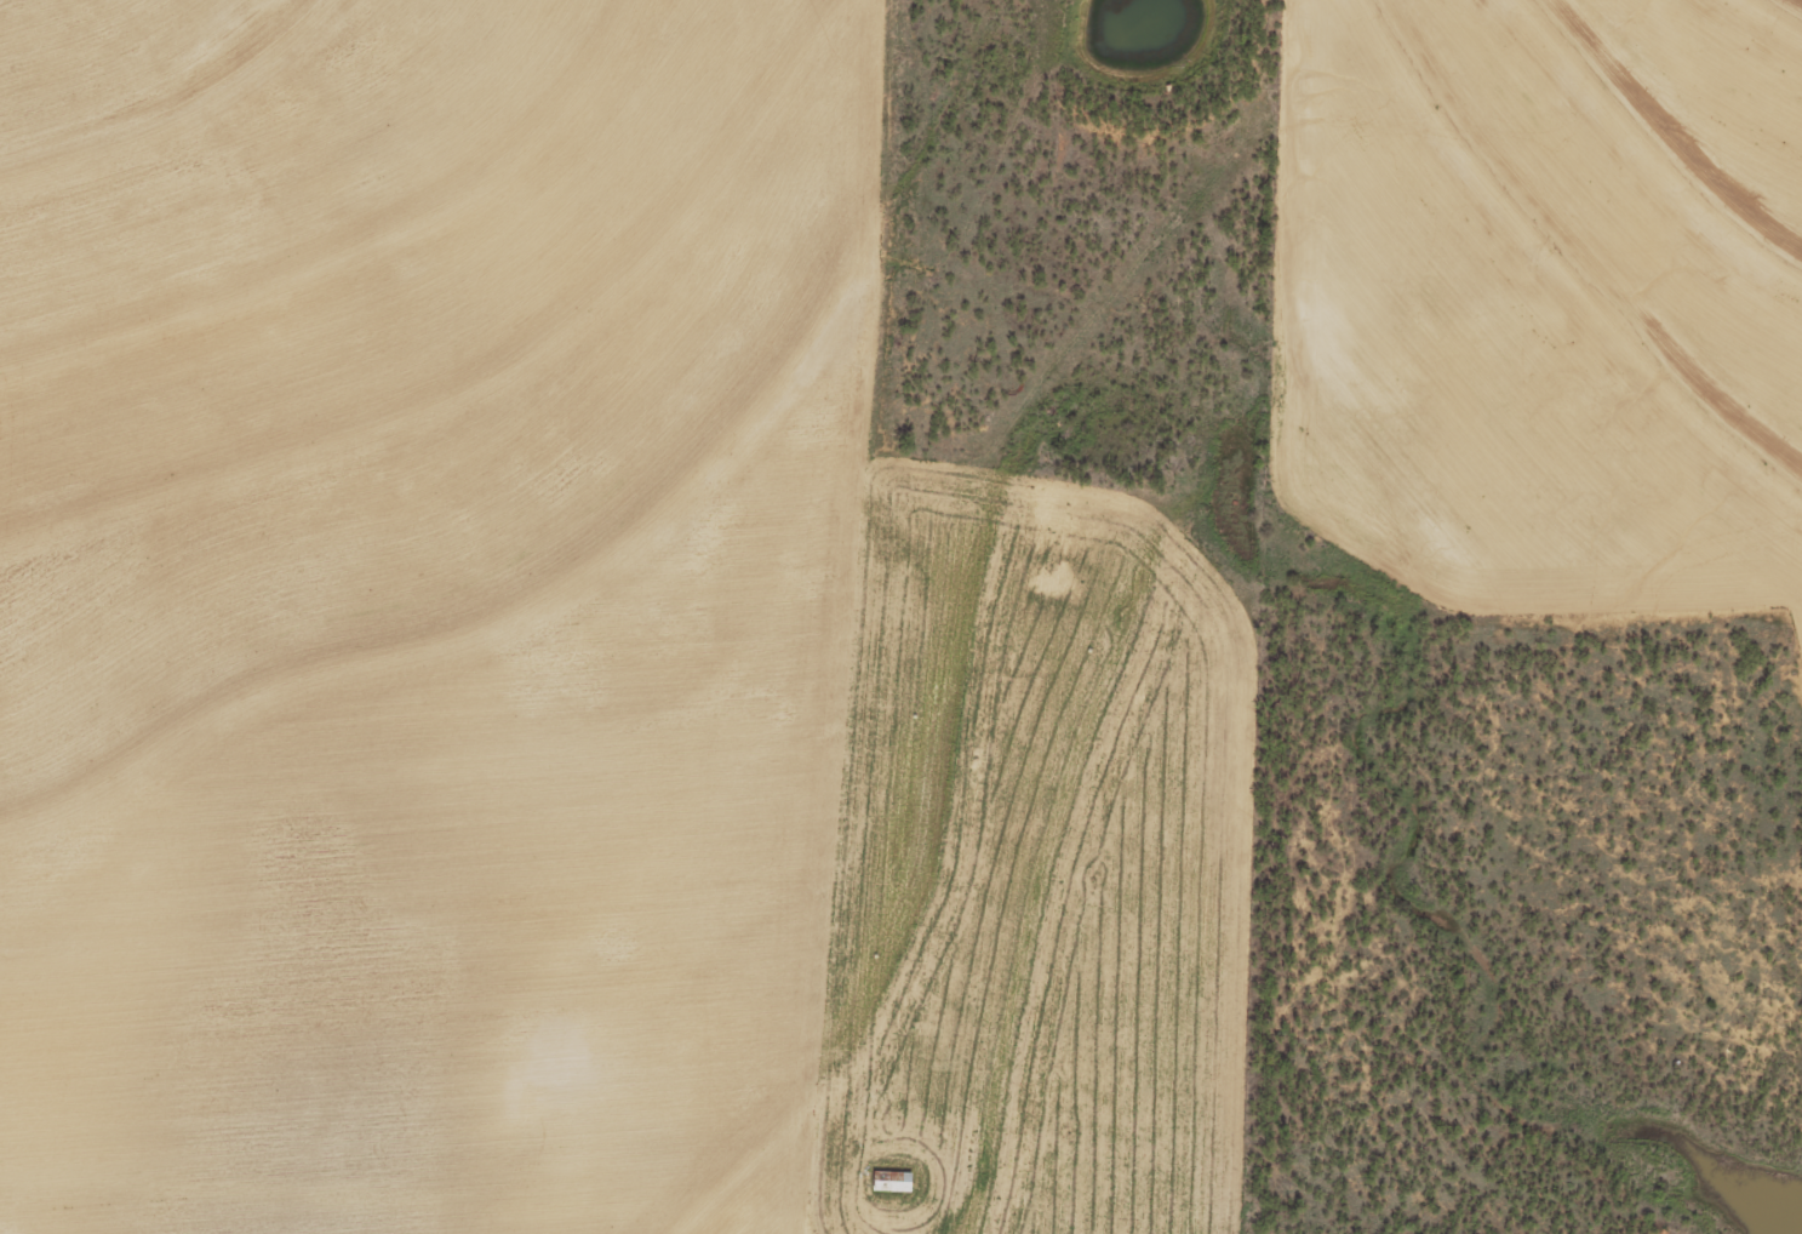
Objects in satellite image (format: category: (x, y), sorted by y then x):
building: (892, 1182)
road: (185, 1200)

